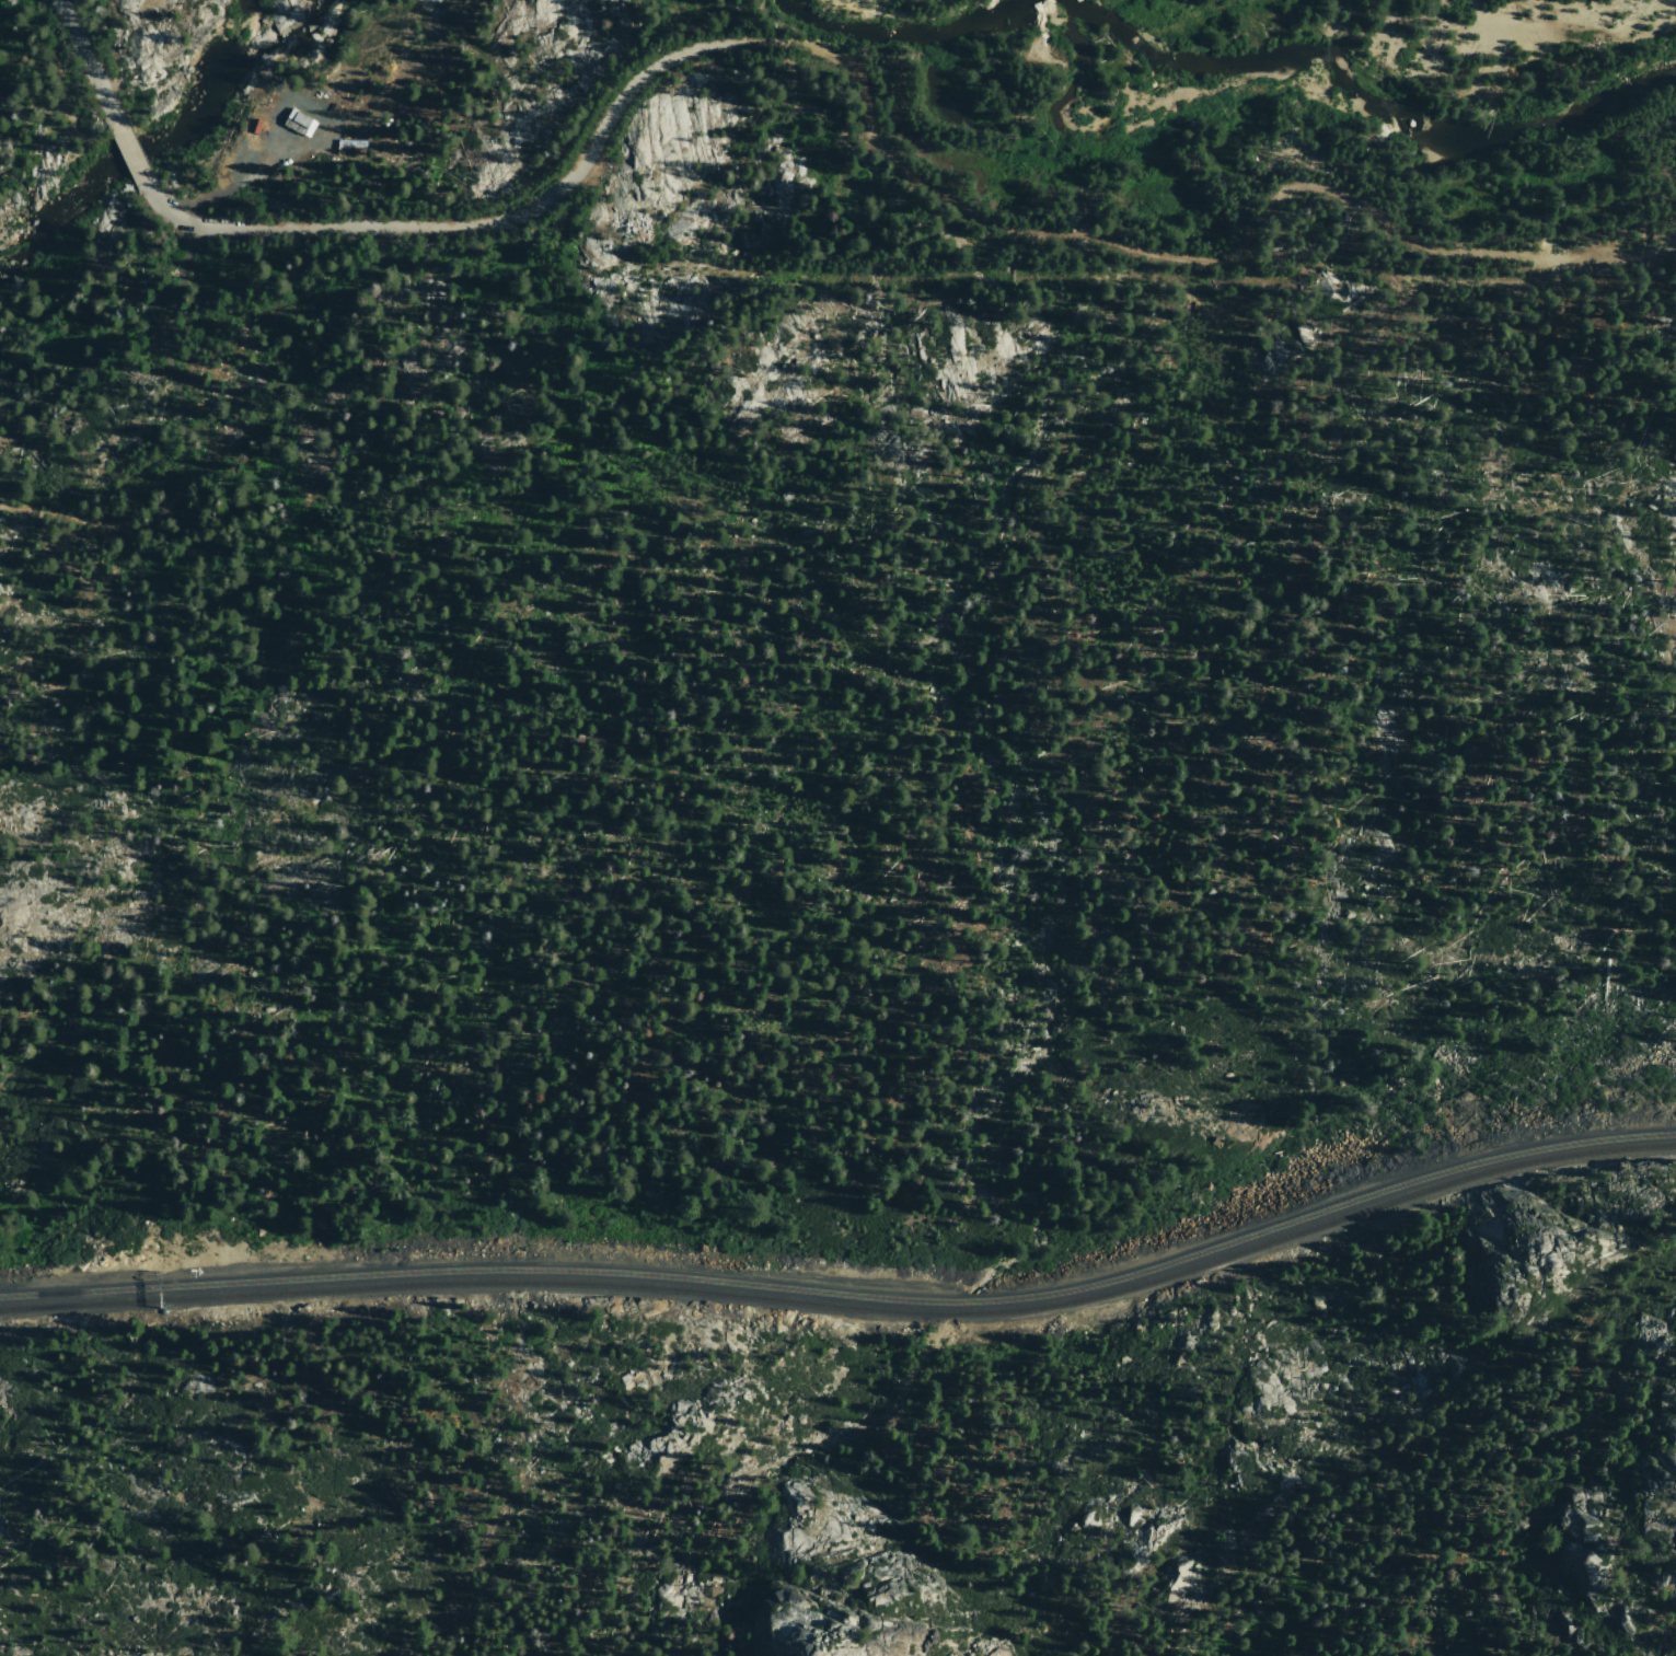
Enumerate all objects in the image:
road: (85, 55)
building: (296, 120)
river: (180, 135)
road: (129, 150)
road: (230, 182)
road: (157, 201)
road: (484, 219)
road: (1183, 256)
river: (12, 277)
road: (95, 303)
railway: (847, 1300)
railway: (847, 1310)

